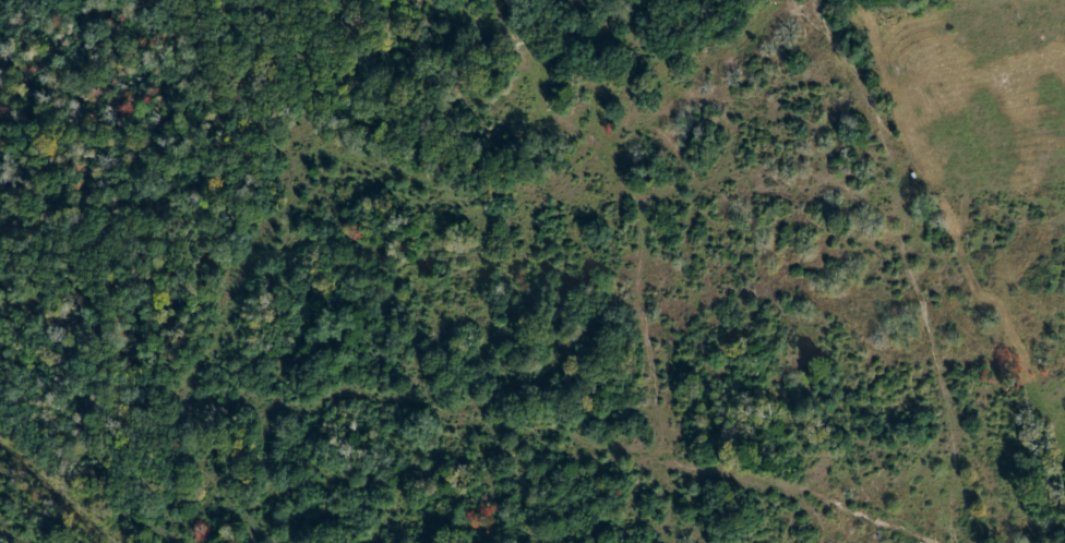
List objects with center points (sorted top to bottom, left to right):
road: (800, 503)

